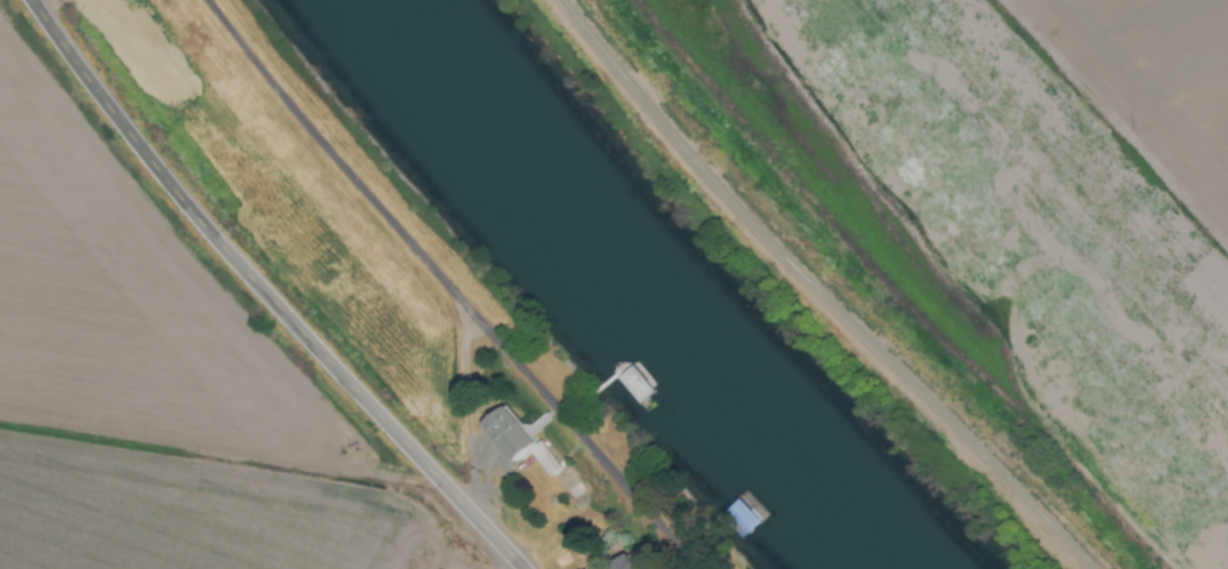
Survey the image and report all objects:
crop: (994, 221)
road: (448, 286)
road: (265, 294)
crop: (192, 319)
building: (504, 434)
road: (505, 562)

